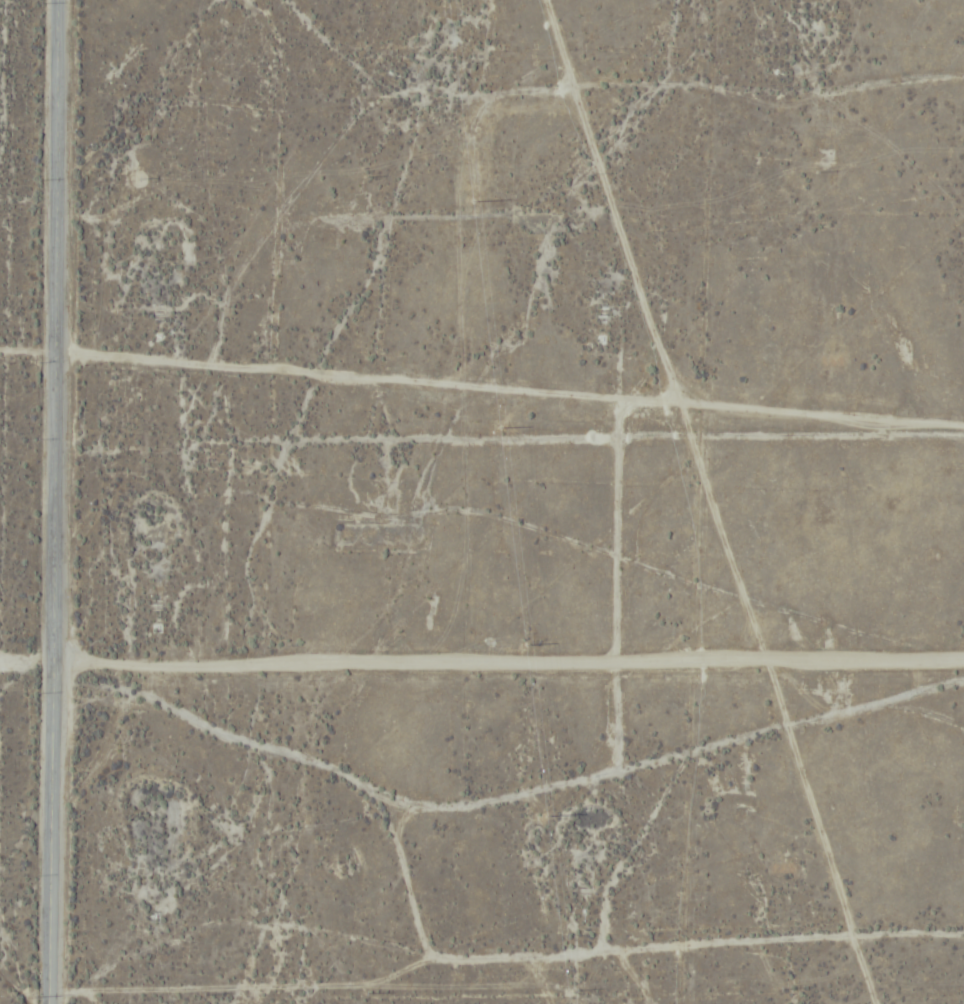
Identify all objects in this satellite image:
road: (46, 501)

